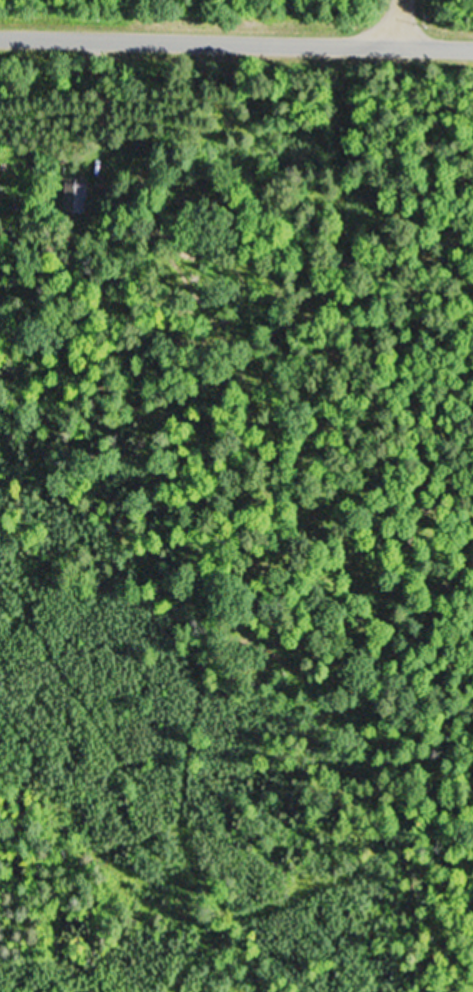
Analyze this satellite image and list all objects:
road: (398, 24)
road: (236, 43)

